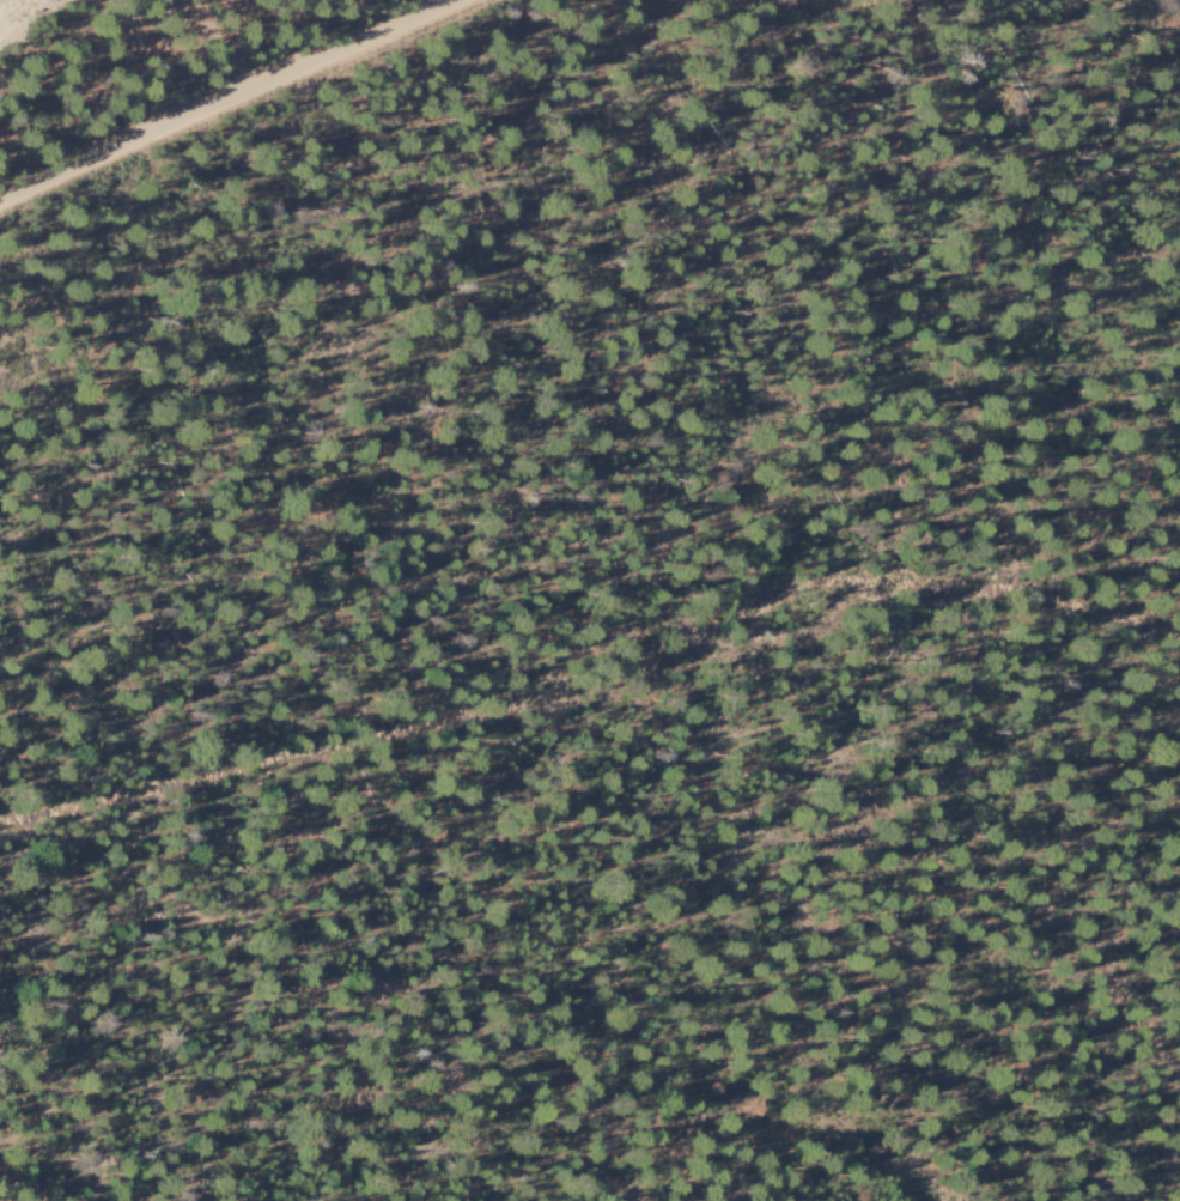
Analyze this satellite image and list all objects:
road: (803, 5)
road: (229, 57)
road: (226, 98)
road: (595, 679)

